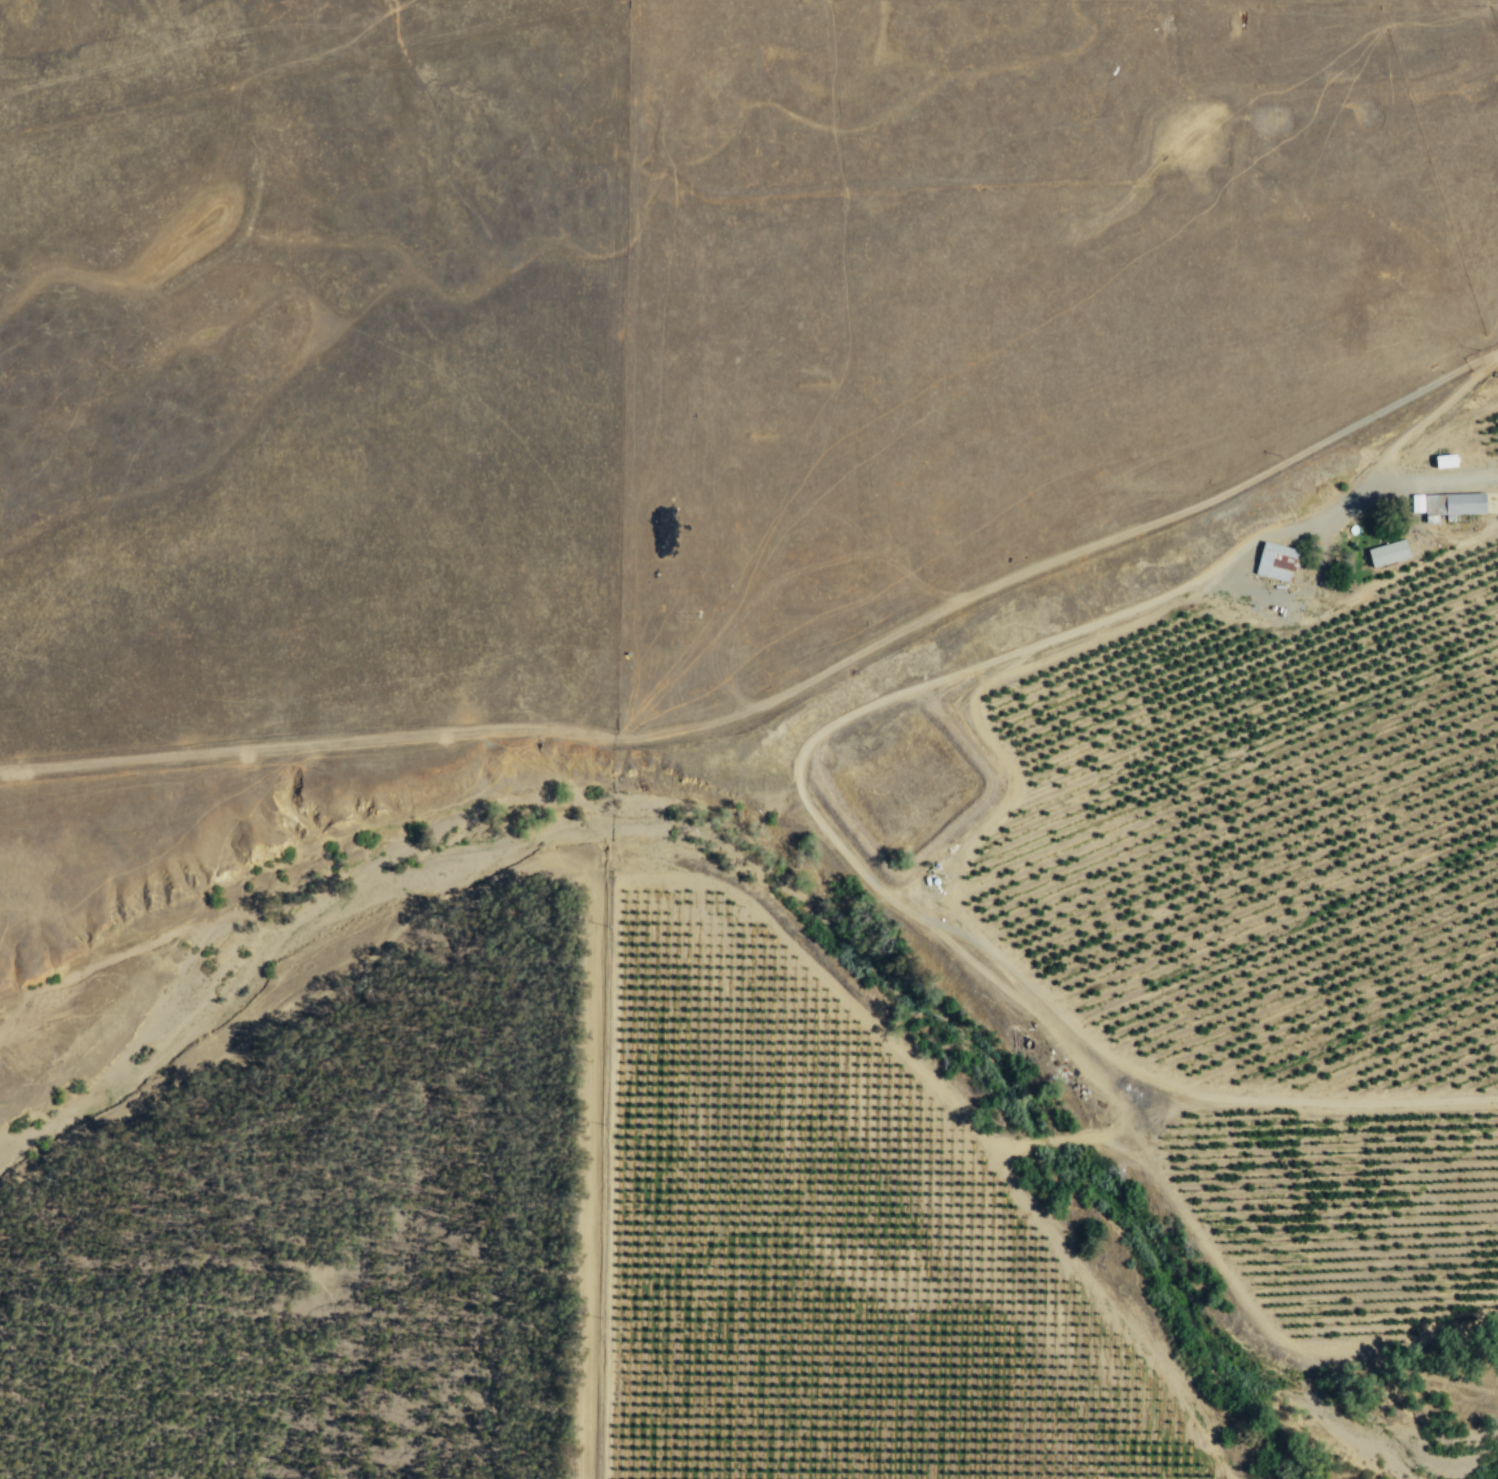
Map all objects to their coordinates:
road: (1483, 358)
road: (1410, 431)
building: (1447, 461)
road: (1421, 483)
building: (1449, 504)
building: (1389, 553)
road: (1044, 560)
building: (1277, 562)
road: (309, 743)
road: (552, 864)
river: (802, 898)
river: (100, 961)

